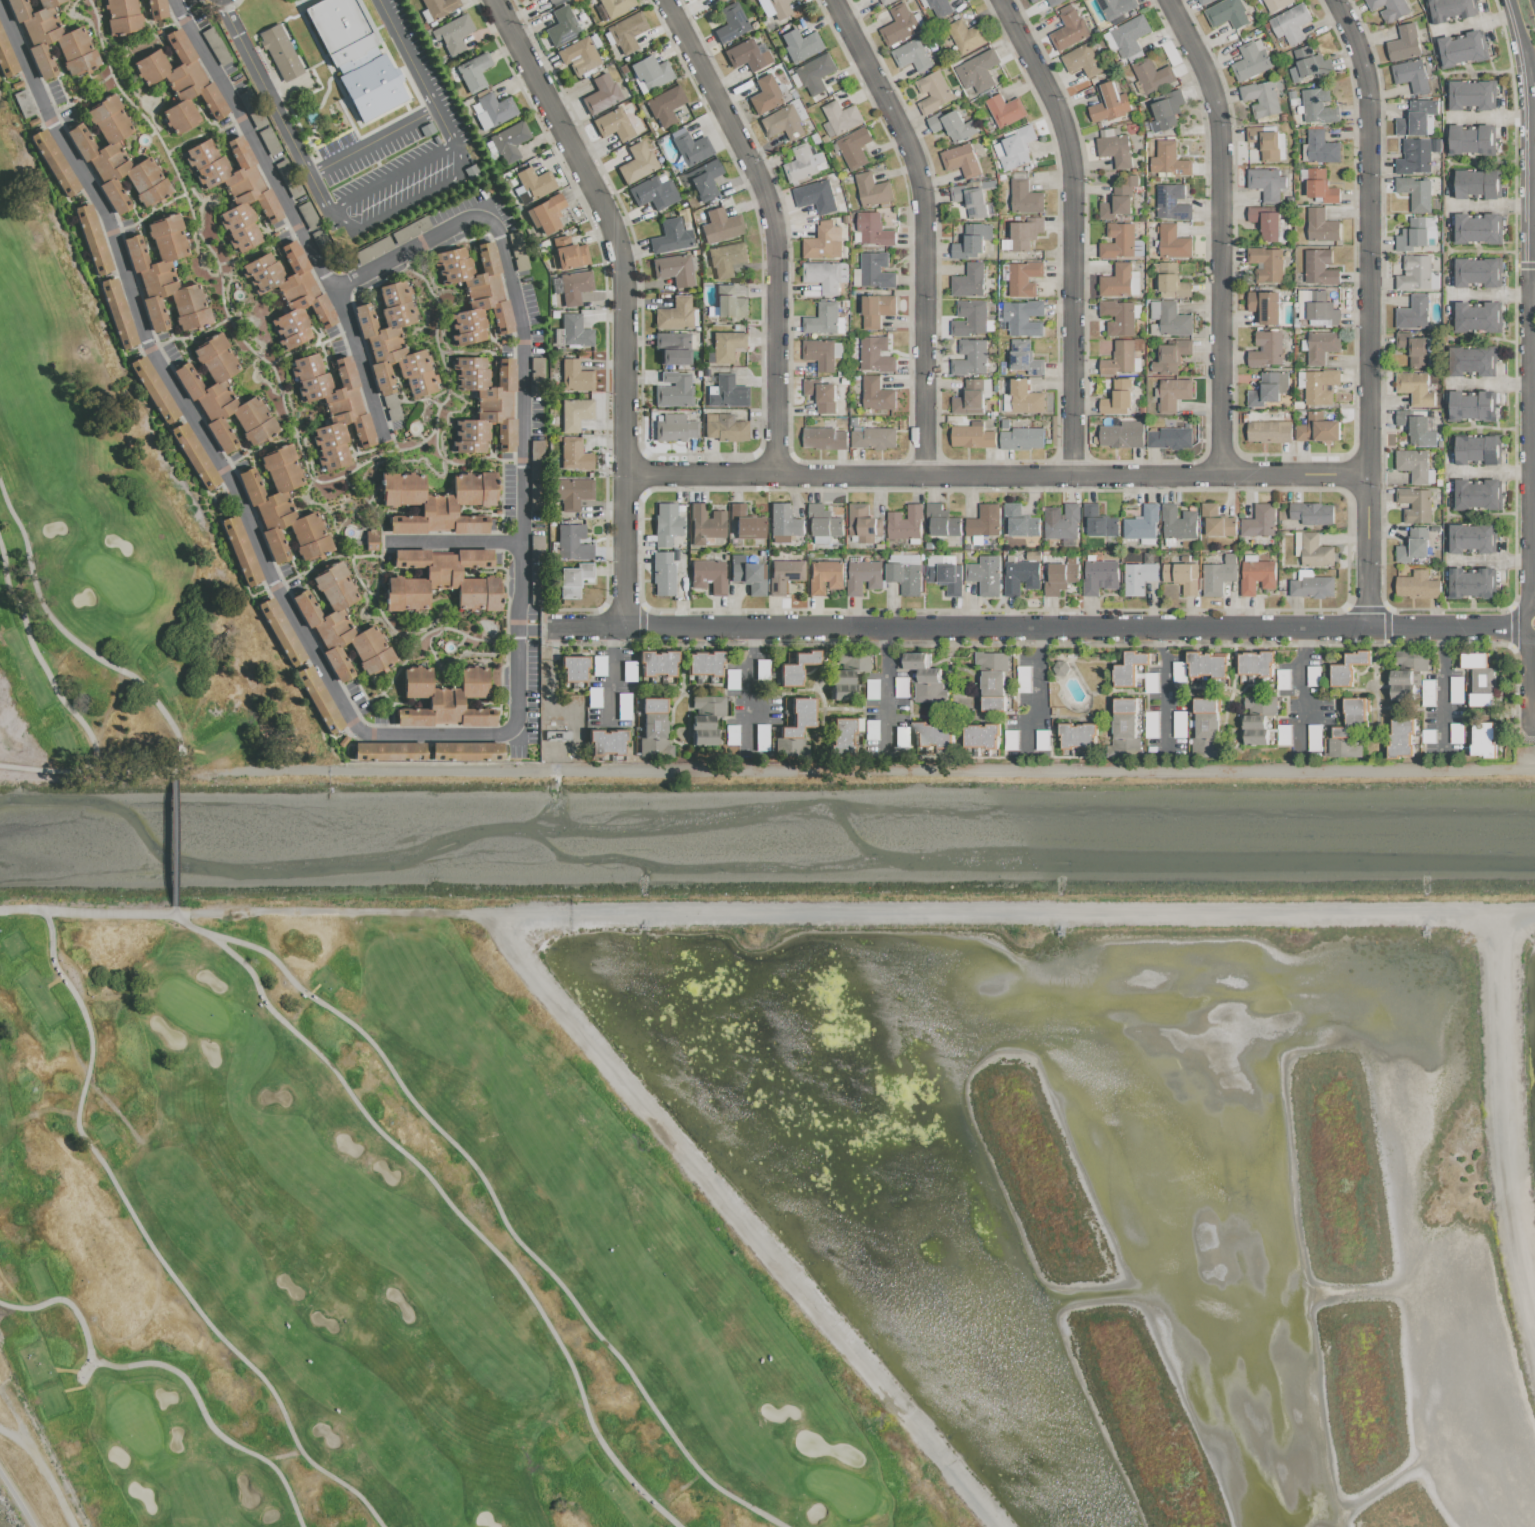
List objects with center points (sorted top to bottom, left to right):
building: (528, 0)
building: (694, 0)
building: (719, 0)
building: (1032, 0)
building: (551, 1)
building: (884, 1)
building: (1202, 1)
building: (1053, 2)
building: (1275, 4)
building: (614, 6)
building: (939, 7)
building: (1116, 7)
building: (438, 8)
building: (778, 8)
building: (1388, 8)
building: (157, 9)
building: (1450, 9)
building: (1226, 13)
building: (123, 17)
road: (1475, 22)
building: (730, 23)
building: (1290, 23)
building: (899, 24)
building: (561, 27)
building: (1069, 27)
road: (1518, 30)
building: (626, 32)
building: (454, 34)
building: (966, 35)
building: (1127, 37)
building: (53, 39)
building: (1403, 43)
building: (800, 44)
building: (216, 46)
building: (1461, 48)
building: (281, 53)
building: (746, 55)
building: (911, 55)
building: (578, 56)
building: (7, 57)
building: (356, 58)
building: (1081, 60)
building: (1251, 60)
building: (1308, 64)
building: (977, 71)
building: (474, 72)
road: (1529, 72)
building: (649, 73)
building: (815, 73)
building: (1152, 75)
building: (1410, 75)
building: (181, 84)
building: (18, 85)
building: (932, 91)
building: (1471, 94)
building: (600, 95)
building: (764, 95)
building: (1260, 98)
road: (1533, 98)
building: (1108, 103)
building: (665, 106)
building: (1318, 106)
building: (253, 110)
building: (1005, 110)
building: (1165, 110)
building: (493, 111)
building: (840, 116)
building: (1416, 118)
building: (783, 121)
building: (34, 122)
building: (612, 125)
building: (952, 125)
building: (428, 130)
building: (1469, 139)
building: (269, 141)
road: (370, 141)
building: (509, 141)
building: (1264, 142)
building: (690, 147)
building: (853, 147)
building: (1321, 147)
building: (1013, 148)
building: (1114, 148)
building: (1414, 156)
building: (117, 159)
building: (1168, 159)
building: (960, 160)
building: (636, 162)
building: (803, 162)
building: (55, 163)
building: (471, 170)
road: (1531, 173)
building: (288, 176)
building: (703, 180)
building: (535, 183)
building: (1266, 183)
building: (1475, 183)
building: (1320, 186)
building: (235, 189)
building: (490, 189)
building: (872, 189)
building: (654, 192)
building: (1415, 193)
road: (357, 196)
building: (815, 196)
building: (1024, 197)
building: (1118, 197)
building: (969, 200)
building: (1172, 202)
road: (1491, 205)
road: (292, 212)
building: (545, 214)
building: (309, 216)
road: (465, 221)
building: (1268, 222)
building: (1321, 225)
building: (721, 226)
road: (774, 227)
building: (1476, 228)
building: (873, 229)
road: (925, 229)
road: (1073, 230)
building: (411, 231)
building: (1025, 232)
road: (1225, 232)
building: (1414, 233)
building: (670, 237)
building: (94, 239)
building: (972, 240)
building: (322, 241)
building: (823, 241)
building: (1117, 241)
building: (1173, 242)
building: (374, 250)
building: (517, 250)
building: (567, 254)
road: (503, 257)
building: (725, 259)
road: (1534, 260)
road: (384, 263)
building: (1265, 263)
building: (1319, 267)
building: (674, 269)
building: (876, 270)
building: (1475, 272)
building: (1415, 273)
building: (825, 275)
building: (166, 277)
building: (1024, 278)
building: (968, 281)
building: (1120, 281)
building: (1172, 281)
building: (572, 288)
building: (475, 293)
building: (291, 294)
road: (1491, 295)
road: (626, 298)
building: (729, 303)
building: (1265, 306)
building: (1317, 308)
building: (876, 309)
road: (1366, 309)
road: (1532, 310)
building: (1413, 312)
building: (119, 313)
building: (674, 314)
building: (1022, 317)
building: (1118, 317)
building: (1476, 317)
building: (822, 318)
building: (969, 318)
building: (1170, 318)
road: (520, 321)
building: (574, 331)
building: (394, 343)
building: (727, 346)
building: (1265, 348)
building: (672, 349)
building: (1413, 349)
building: (821, 353)
building: (875, 354)
building: (1170, 356)
building: (969, 357)
building: (1024, 357)
building: (1119, 358)
building: (1472, 360)
road: (522, 377)
building: (574, 377)
building: (1320, 386)
building: (1267, 388)
building: (1414, 388)
building: (154, 389)
building: (673, 390)
building: (727, 393)
building: (821, 394)
building: (876, 394)
building: (1173, 394)
building: (1118, 395)
building: (224, 396)
building: (969, 398)
building: (1022, 398)
building: (485, 405)
building: (1471, 405)
building: (334, 408)
building: (393, 408)
building: (574, 414)
road: (521, 420)
building: (1416, 427)
building: (675, 428)
building: (724, 428)
building: (1317, 428)
building: (1268, 431)
building: (1121, 434)
building: (971, 436)
building: (873, 437)
building: (1169, 437)
building: (824, 438)
building: (1021, 438)
road: (205, 439)
building: (1476, 449)
building: (196, 455)
building: (574, 455)
building: (1413, 464)
road: (994, 478)
building: (572, 493)
road: (521, 494)
building: (1476, 494)
building: (438, 503)
building: (1414, 504)
building: (283, 509)
building: (1311, 513)
building: (984, 520)
building: (942, 521)
building: (1020, 521)
building: (1061, 521)
building: (1099, 521)
building: (1216, 521)
building: (1258, 521)
building: (905, 522)
building: (1178, 522)
building: (746, 523)
building: (783, 523)
building: (863, 523)
building: (1141, 523)
building: (666, 524)
building: (705, 524)
building: (824, 524)
building: (1469, 538)
building: (371, 540)
building: (573, 543)
road: (454, 545)
building: (1413, 545)
road: (1531, 547)
building: (240, 550)
building: (1315, 551)
building: (662, 574)
building: (944, 574)
building: (1256, 574)
road: (520, 575)
building: (747, 575)
building: (783, 575)
building: (985, 575)
building: (1139, 575)
building: (1218, 575)
building: (708, 576)
building: (824, 576)
building: (863, 576)
building: (1020, 576)
building: (1060, 576)
building: (1099, 576)
building: (1181, 576)
building: (905, 577)
building: (573, 579)
building: (441, 580)
building: (1470, 582)
building: (1311, 585)
building: (1417, 585)
park: (143, 587)
building: (341, 626)
road: (1043, 627)
building: (280, 632)
building: (1255, 662)
building: (657, 663)
building: (704, 663)
building: (1207, 665)
building: (1060, 667)
building: (796, 668)
building: (1129, 668)
building: (1347, 668)
building: (573, 669)
road: (518, 674)
building: (847, 674)
building: (1312, 675)
road: (611, 677)
building: (925, 678)
building: (1281, 678)
building: (1023, 679)
building: (992, 680)
building: (1473, 682)
building: (900, 686)
road: (1298, 688)
road: (884, 689)
road: (750, 690)
road: (1161, 690)
road: (1441, 691)
road: (1038, 696)
building: (319, 699)
building: (445, 699)
building: (800, 717)
building: (1124, 718)
building: (1257, 718)
building: (705, 719)
building: (1151, 724)
building: (1204, 726)
building: (653, 730)
building: (1347, 730)
building: (1078, 733)
building: (843, 735)
building: (932, 735)
building: (981, 735)
building: (1399, 737)
building: (1475, 738)
building: (1041, 739)
building: (761, 740)
building: (606, 743)
building: (793, 746)
building: (388, 751)
building: (466, 751)
road: (174, 842)
park: (193, 1008)
park: (385, 1241)
park: (135, 1423)
road: (15, 1434)
road: (38, 1457)
park: (843, 1493)
road: (16, 1500)

